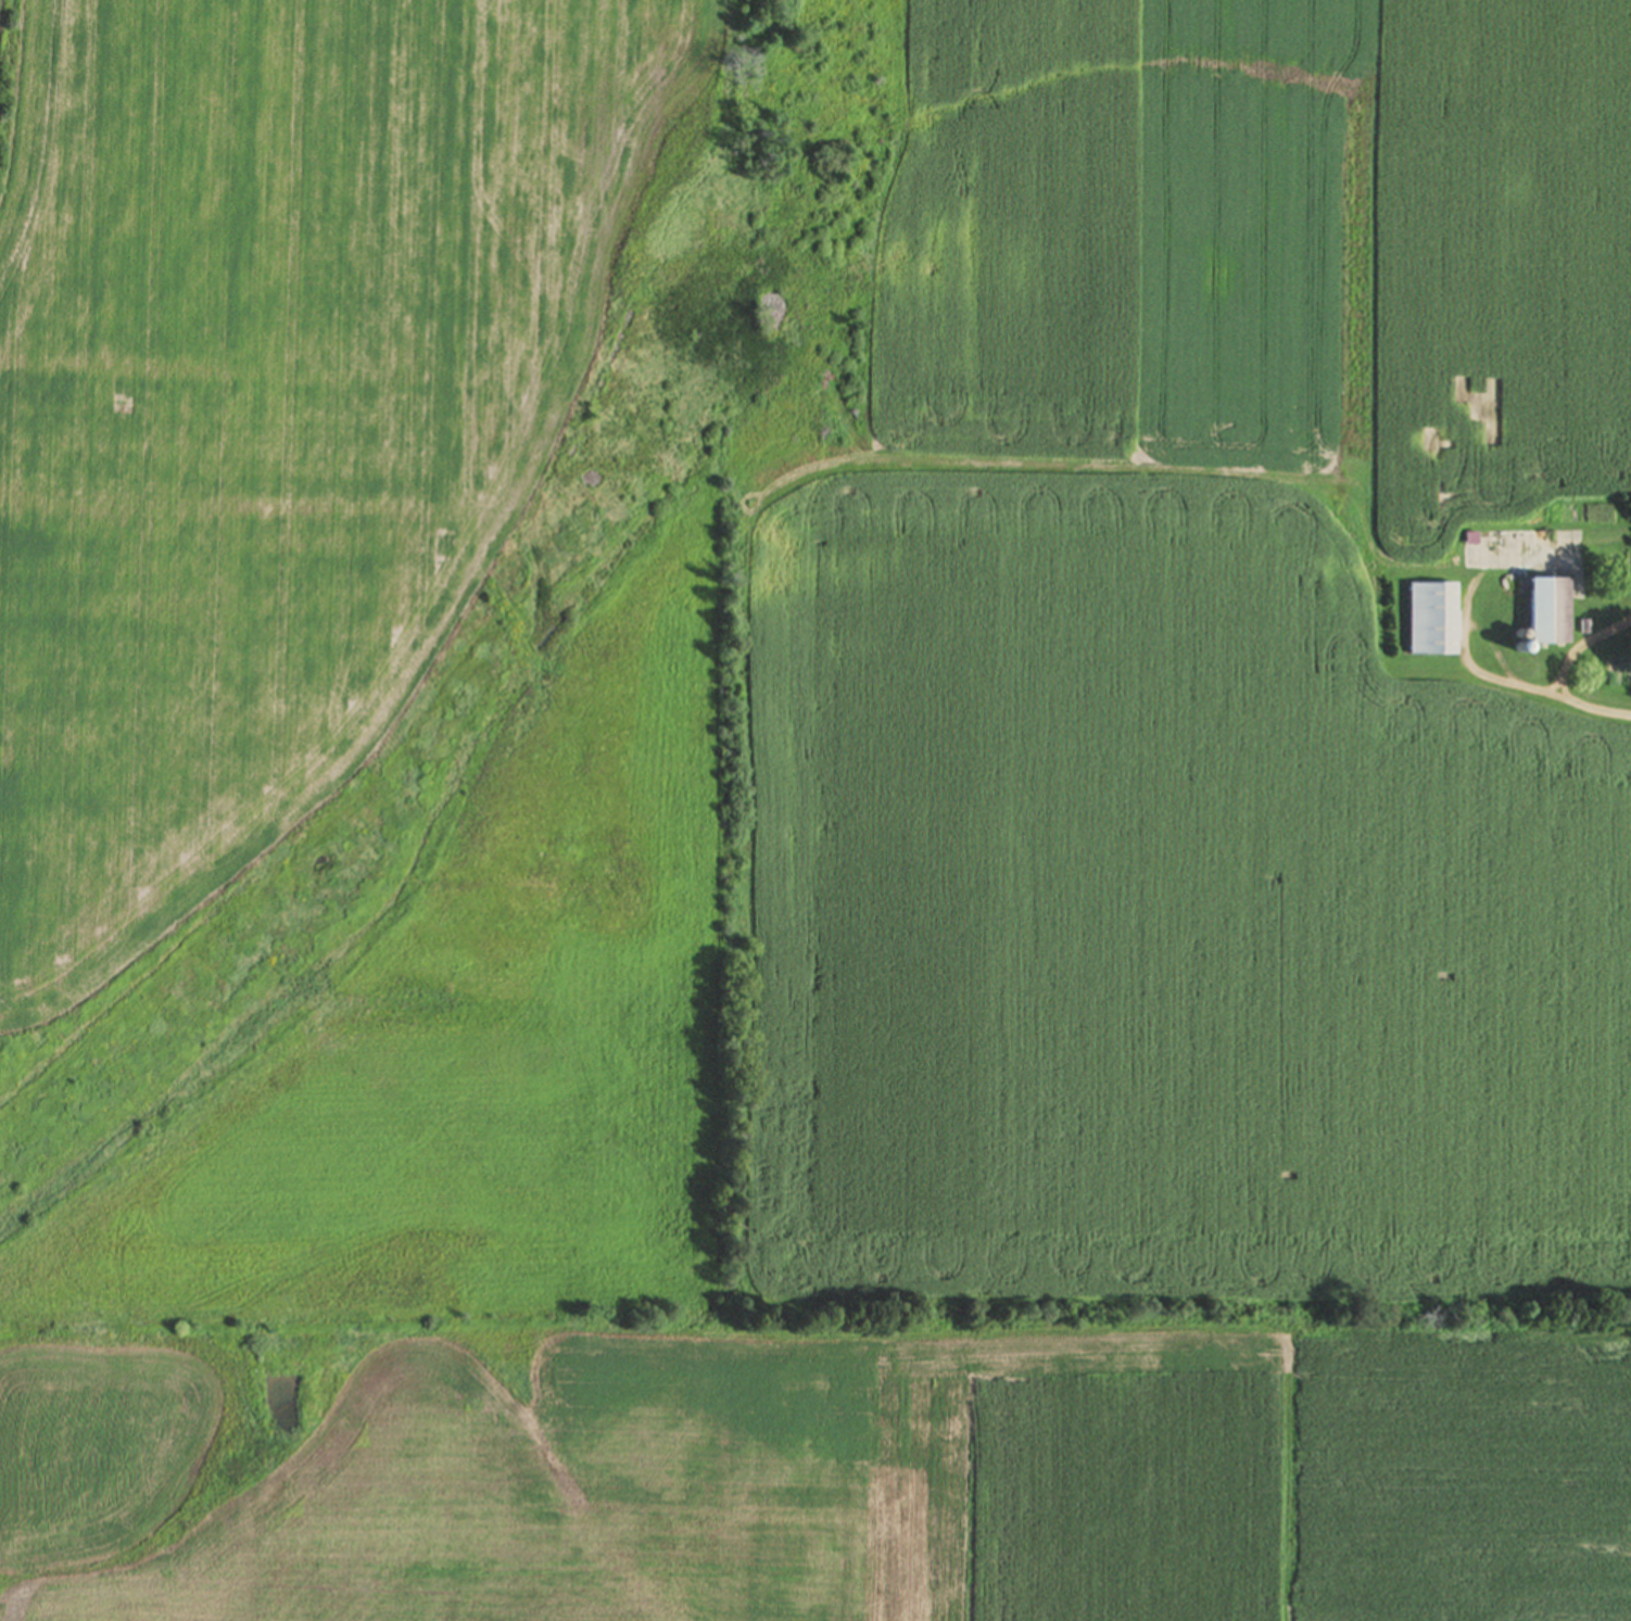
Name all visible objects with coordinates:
building: (1546, 611)
building: (1431, 619)

